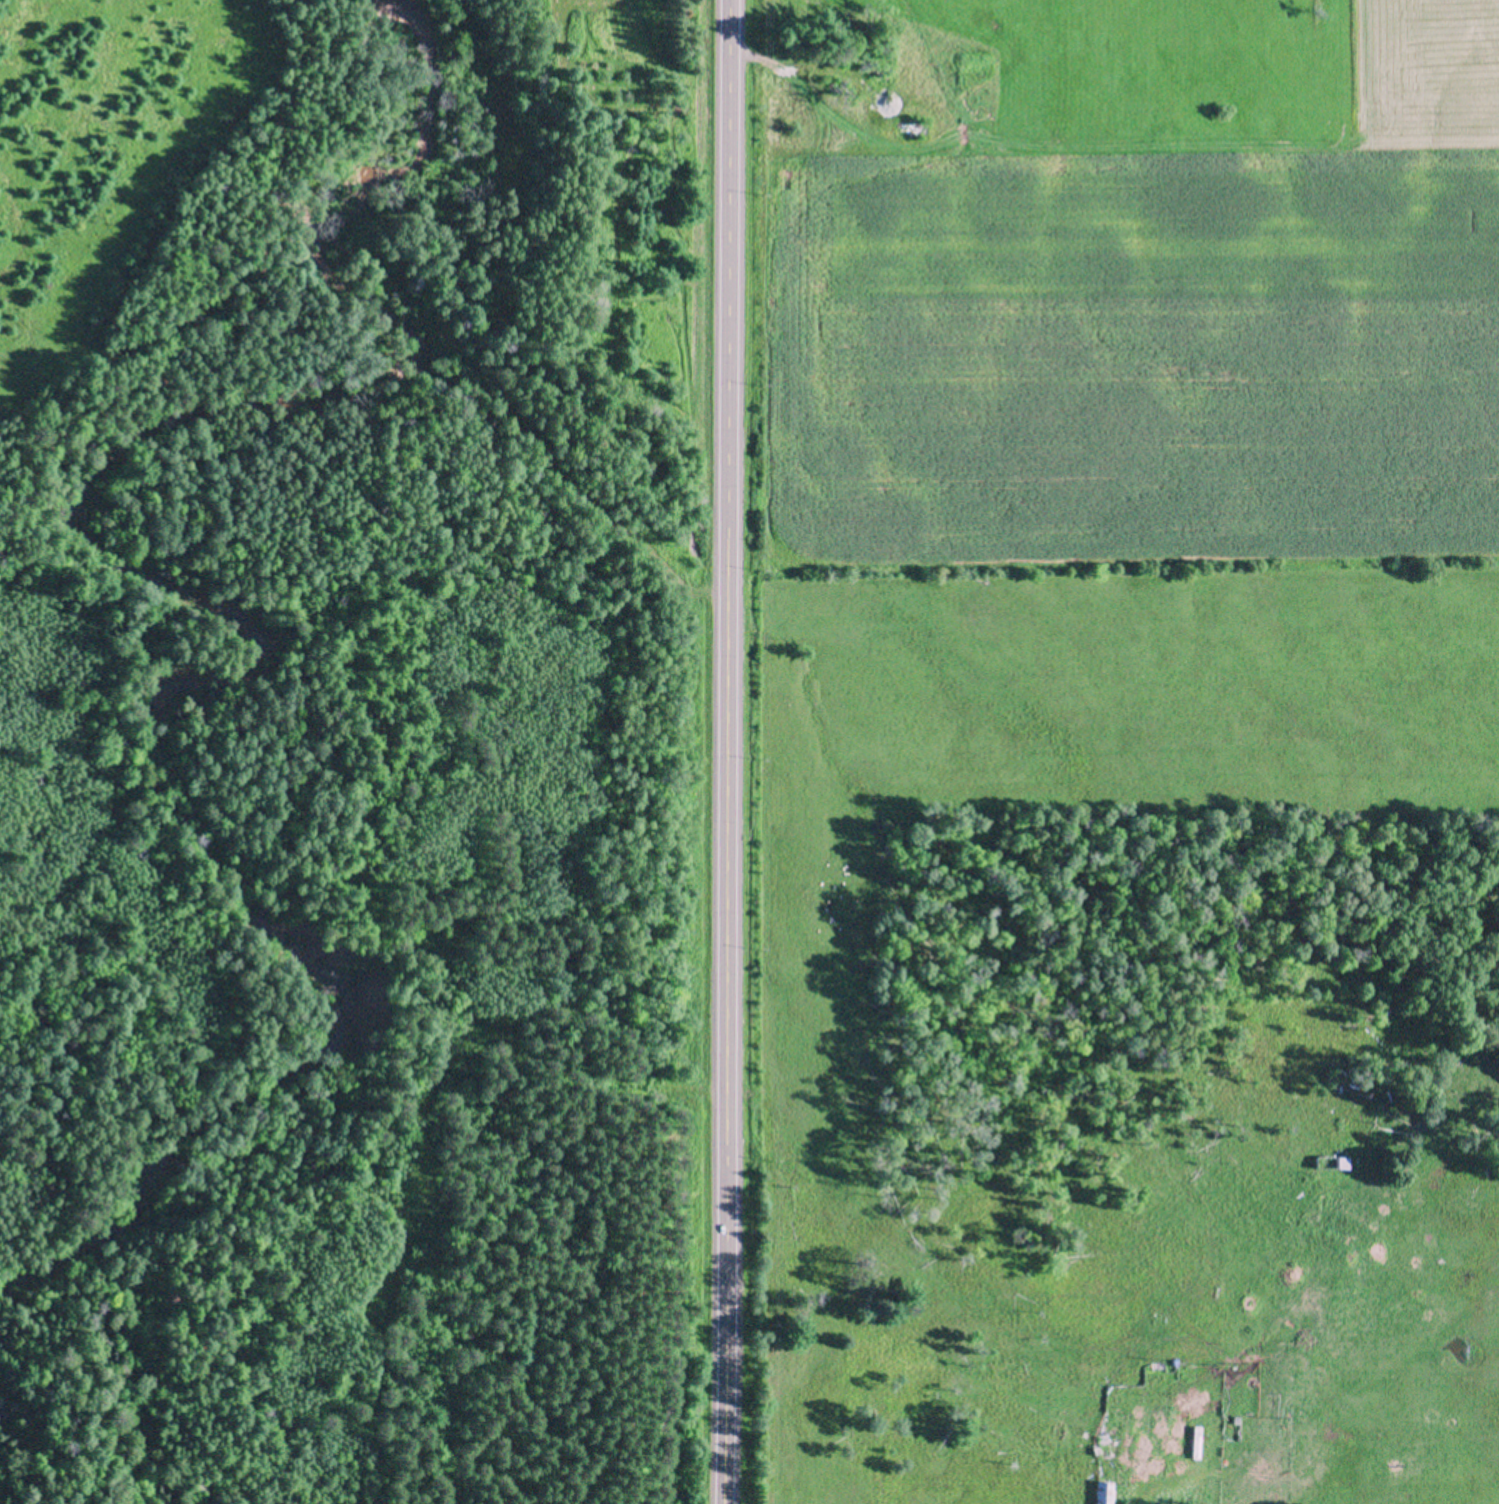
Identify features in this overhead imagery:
crop: (1105, 701)
road: (727, 752)
building: (1331, 1161)
building: (1157, 1366)
building: (1196, 1440)
building: (1104, 1441)
building: (1104, 1491)

